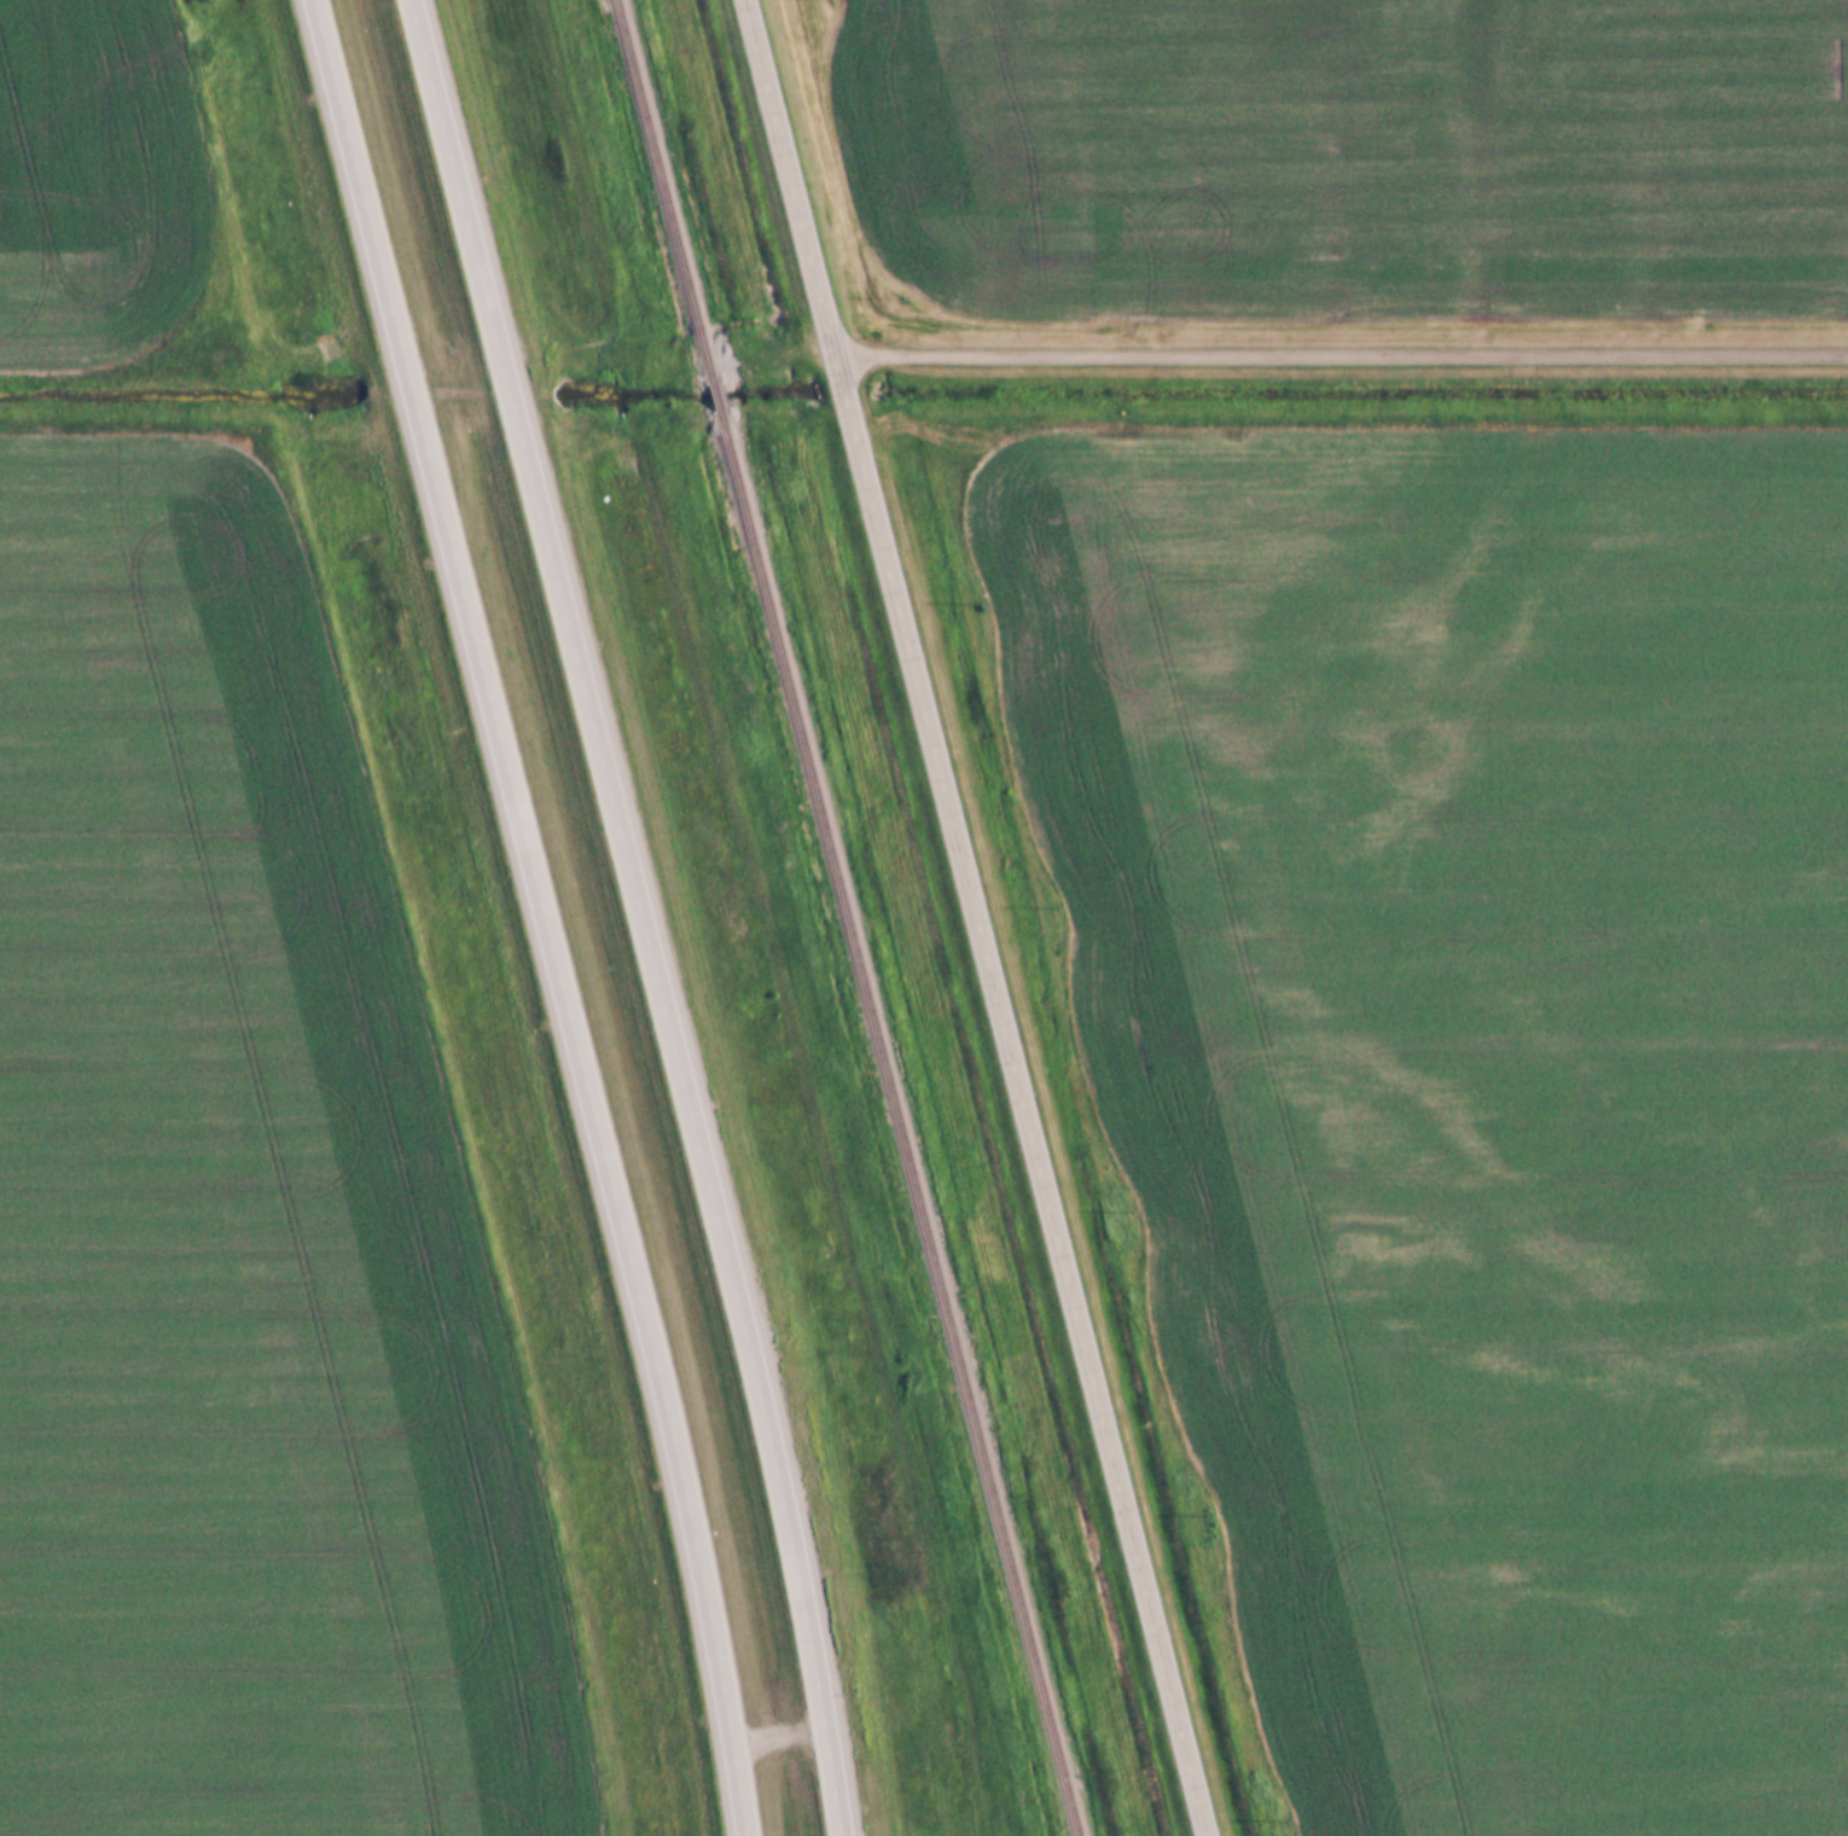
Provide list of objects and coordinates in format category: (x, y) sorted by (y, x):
crop: (1355, 158)
crop: (103, 172)
railway: (661, 188)
road: (1339, 353)
railway: (714, 395)
road: (546, 914)
road: (640, 914)
road: (975, 917)
crop: (1471, 1088)
railway: (899, 1125)
crop: (239, 1215)

